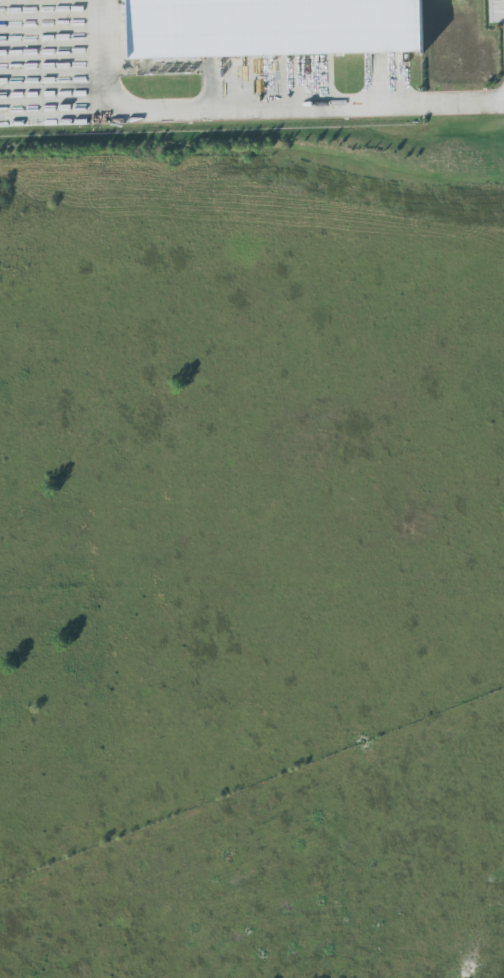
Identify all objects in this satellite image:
building: (264, 25)
road: (254, 106)

